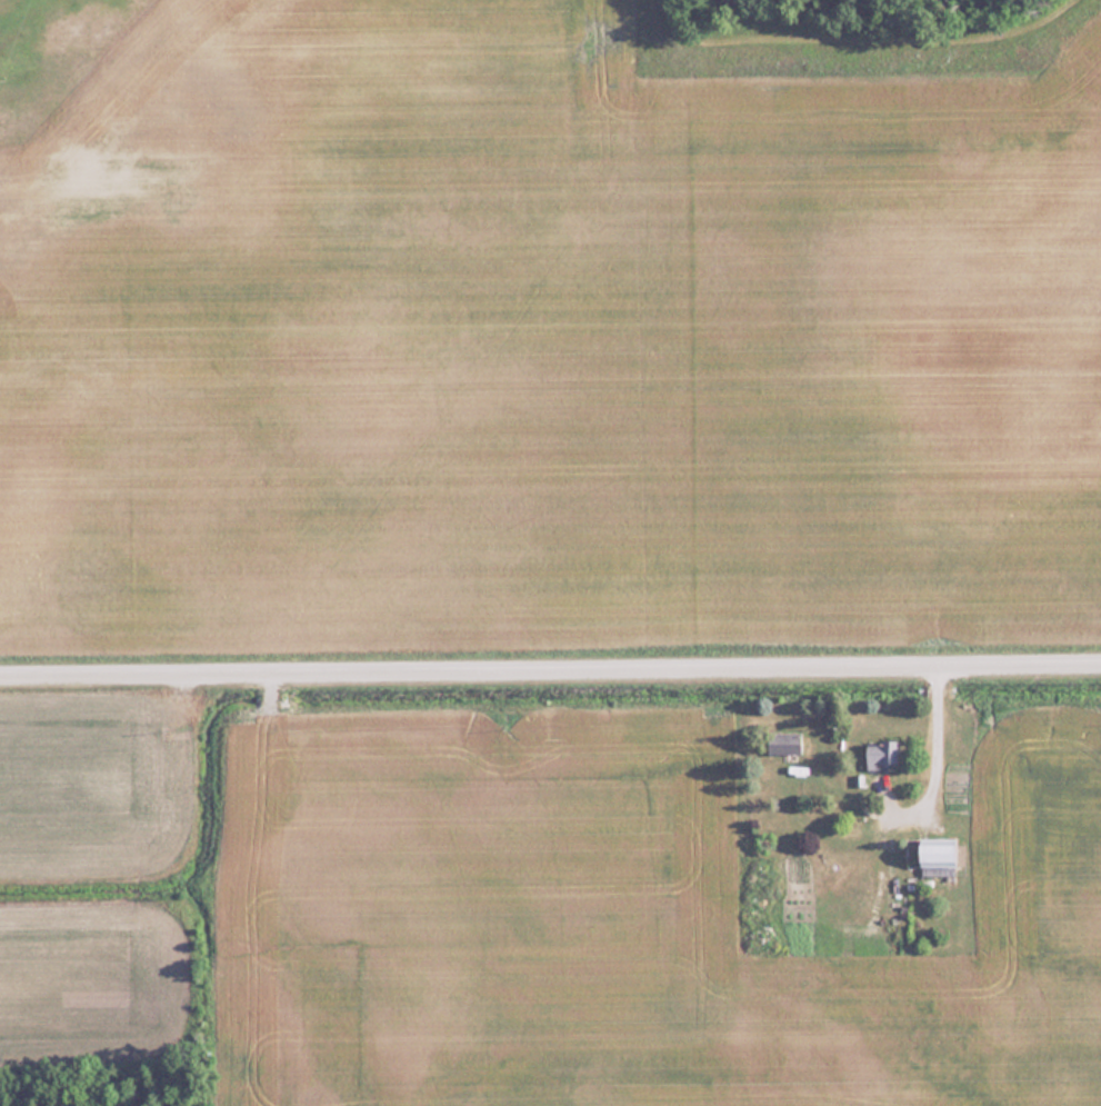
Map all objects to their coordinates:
road: (550, 659)
building: (784, 743)
road: (935, 746)
building: (881, 754)
building: (939, 856)

